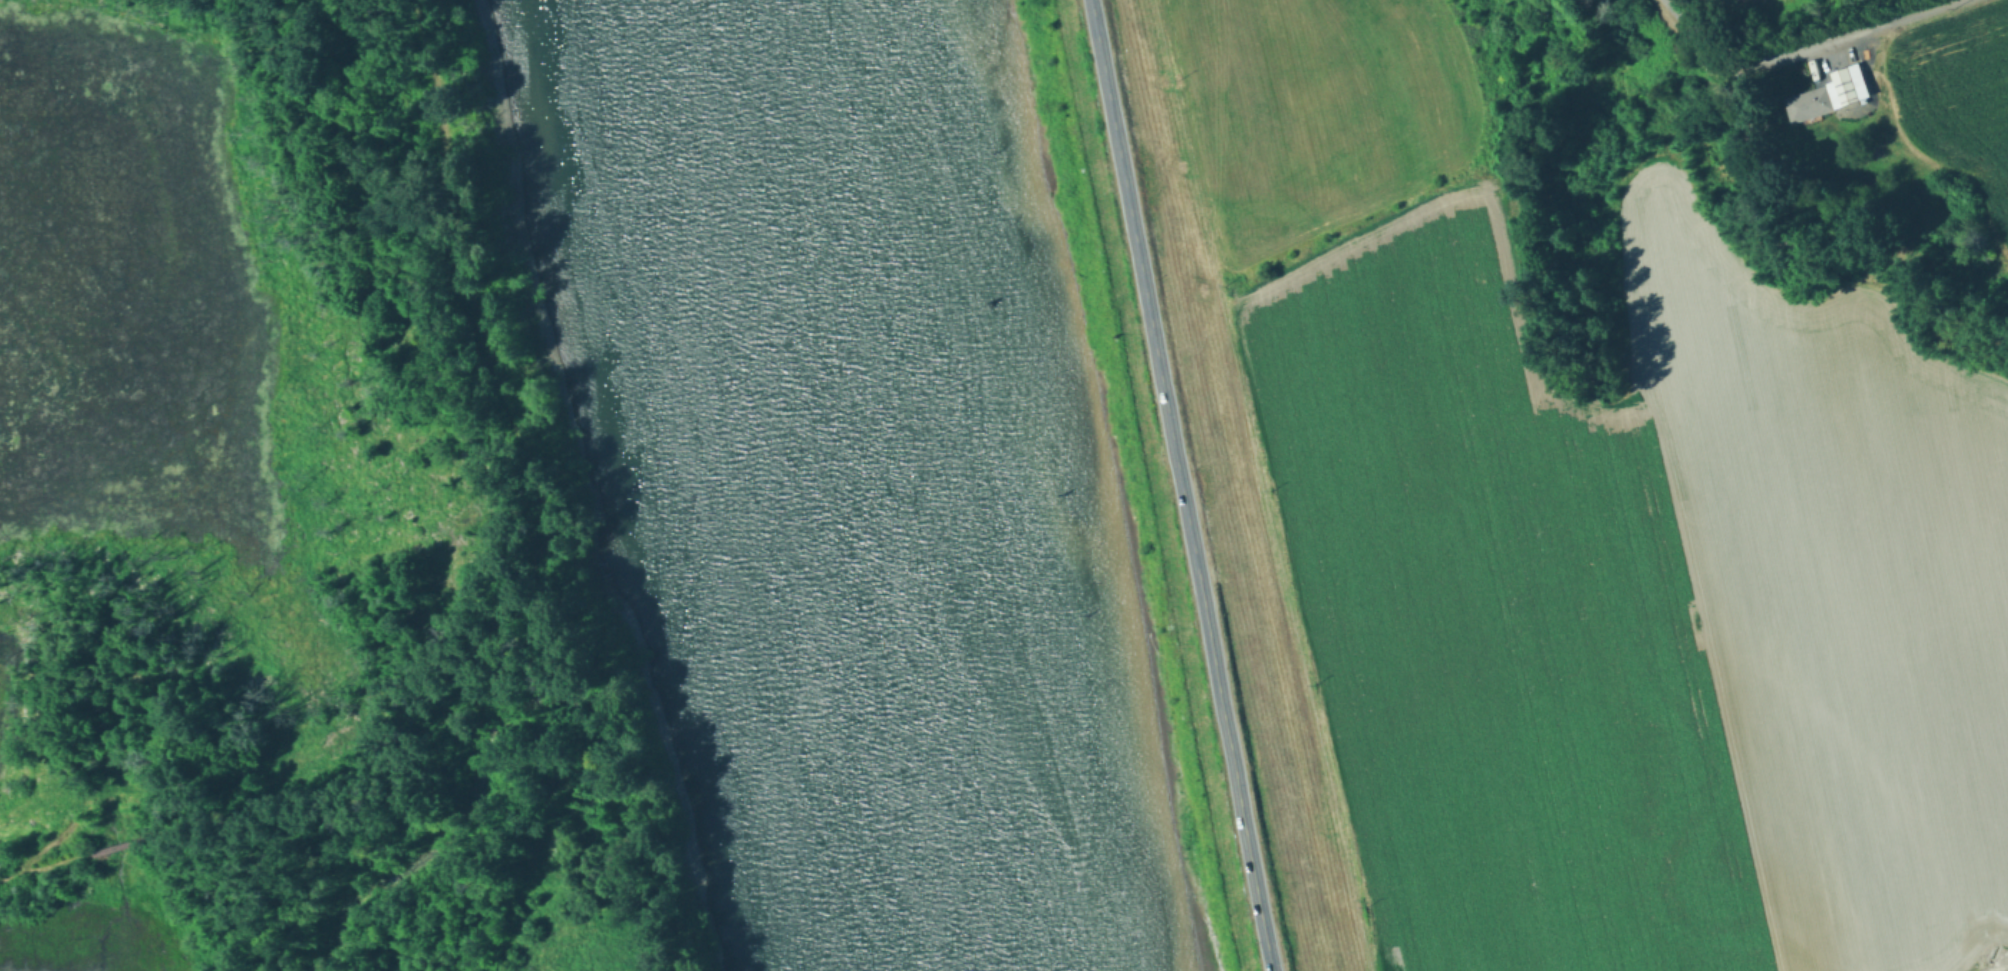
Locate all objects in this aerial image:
building: (1786, 2)
road: (1811, 48)
park: (1376, 103)
building: (1809, 105)
crop: (1956, 107)
park: (1077, 162)
road: (1145, 280)
river: (877, 485)
road: (525, 599)
crop: (1641, 611)
road: (1236, 761)
road: (1275, 967)

